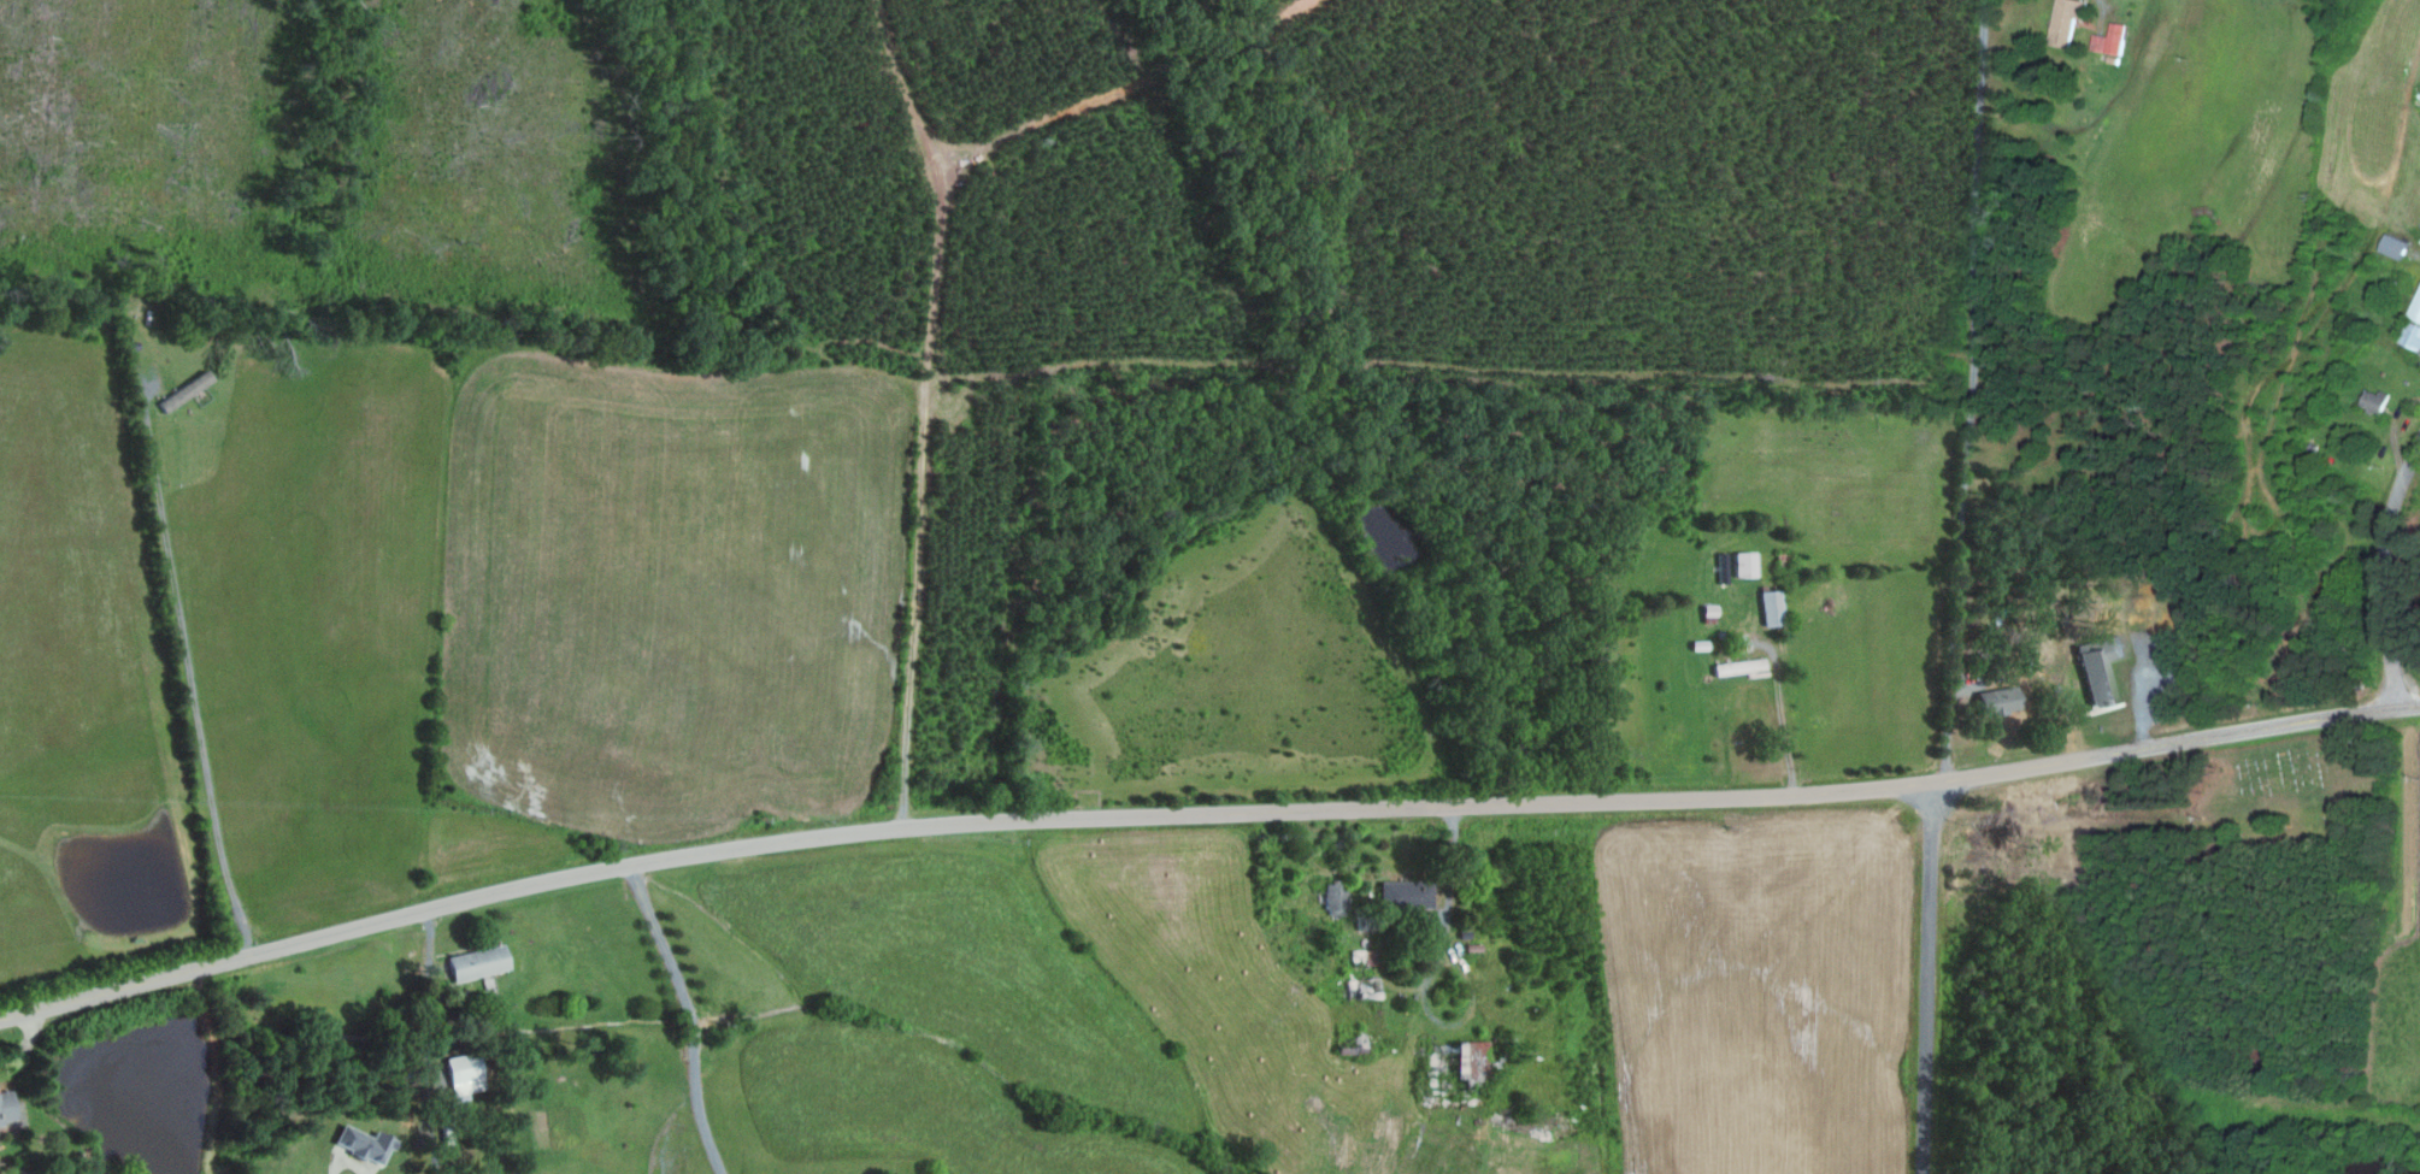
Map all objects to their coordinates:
building: (2071, 14)
building: (2119, 36)
building: (2397, 246)
building: (2414, 328)
road: (1962, 391)
building: (2378, 399)
building: (1748, 562)
road: (2383, 568)
building: (1773, 606)
building: (1742, 665)
building: (2104, 666)
road: (189, 678)
building: (2003, 698)
road: (1782, 722)
park: (2292, 774)
road: (1202, 812)
building: (1408, 893)
building: (1336, 895)
building: (1362, 955)
building: (482, 961)
road: (1426, 974)
road: (1930, 978)
building: (1364, 986)
road: (687, 1015)
road: (27, 1042)
building: (1470, 1064)
building: (467, 1072)
building: (8, 1107)
building: (367, 1143)
road: (347, 1157)

